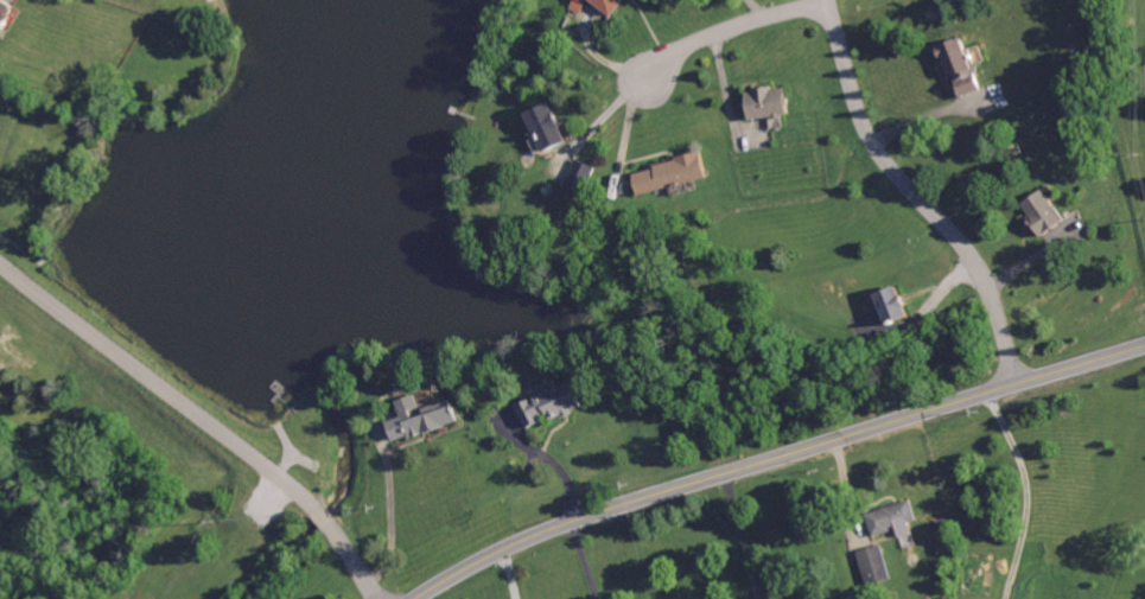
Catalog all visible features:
building: (610, 5)
building: (5, 13)
road: (725, 26)
building: (961, 64)
building: (770, 102)
building: (546, 127)
building: (672, 173)
building: (580, 176)
road: (917, 195)
building: (1045, 211)
building: (897, 304)
building: (552, 403)
road: (202, 418)
building: (421, 418)
road: (775, 458)
road: (1024, 492)
road: (390, 515)
building: (893, 518)
road: (740, 536)
road: (580, 560)
building: (873, 565)
road: (510, 574)

